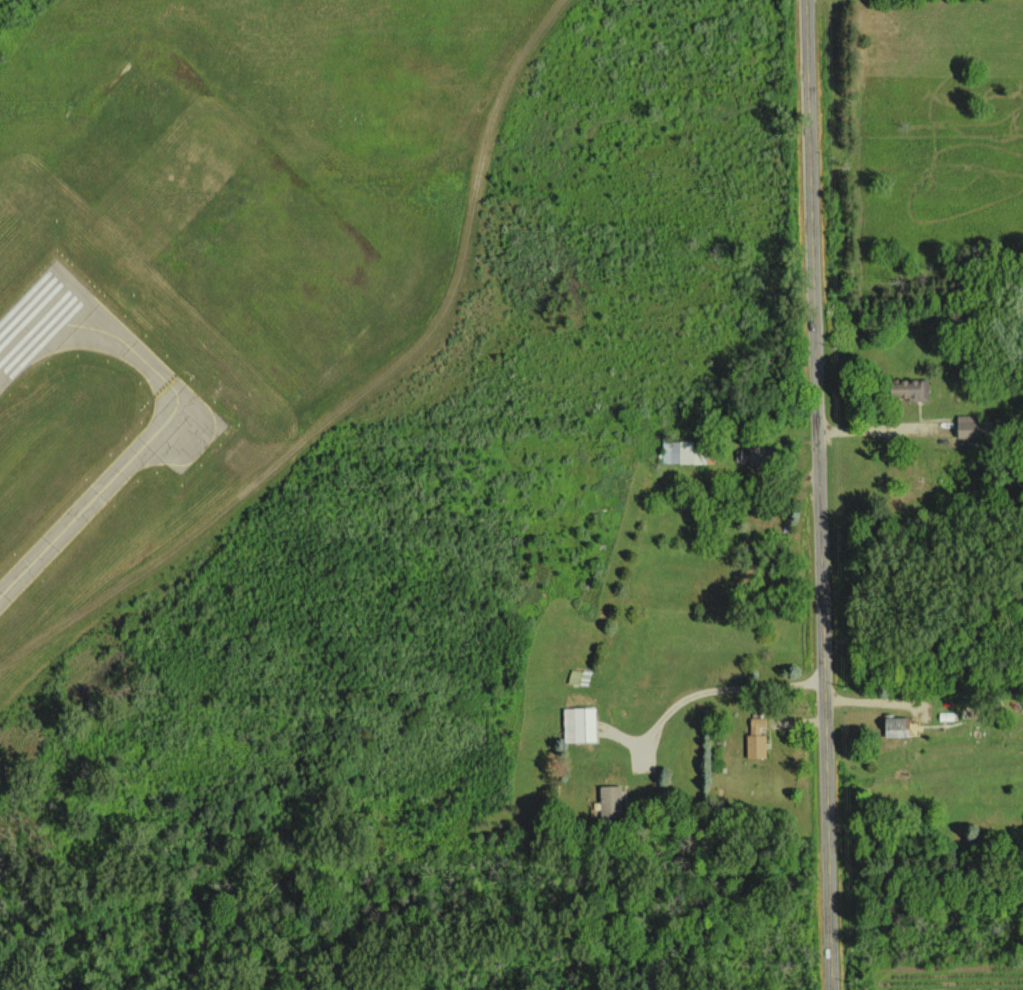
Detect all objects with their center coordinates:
airport runway: (30, 318)
building: (906, 388)
building: (965, 426)
road: (873, 431)
airport taxiway: (149, 435)
building: (682, 452)
road: (816, 494)
road: (719, 688)
road: (783, 717)
building: (579, 724)
building: (895, 726)
building: (755, 738)
building: (610, 801)

